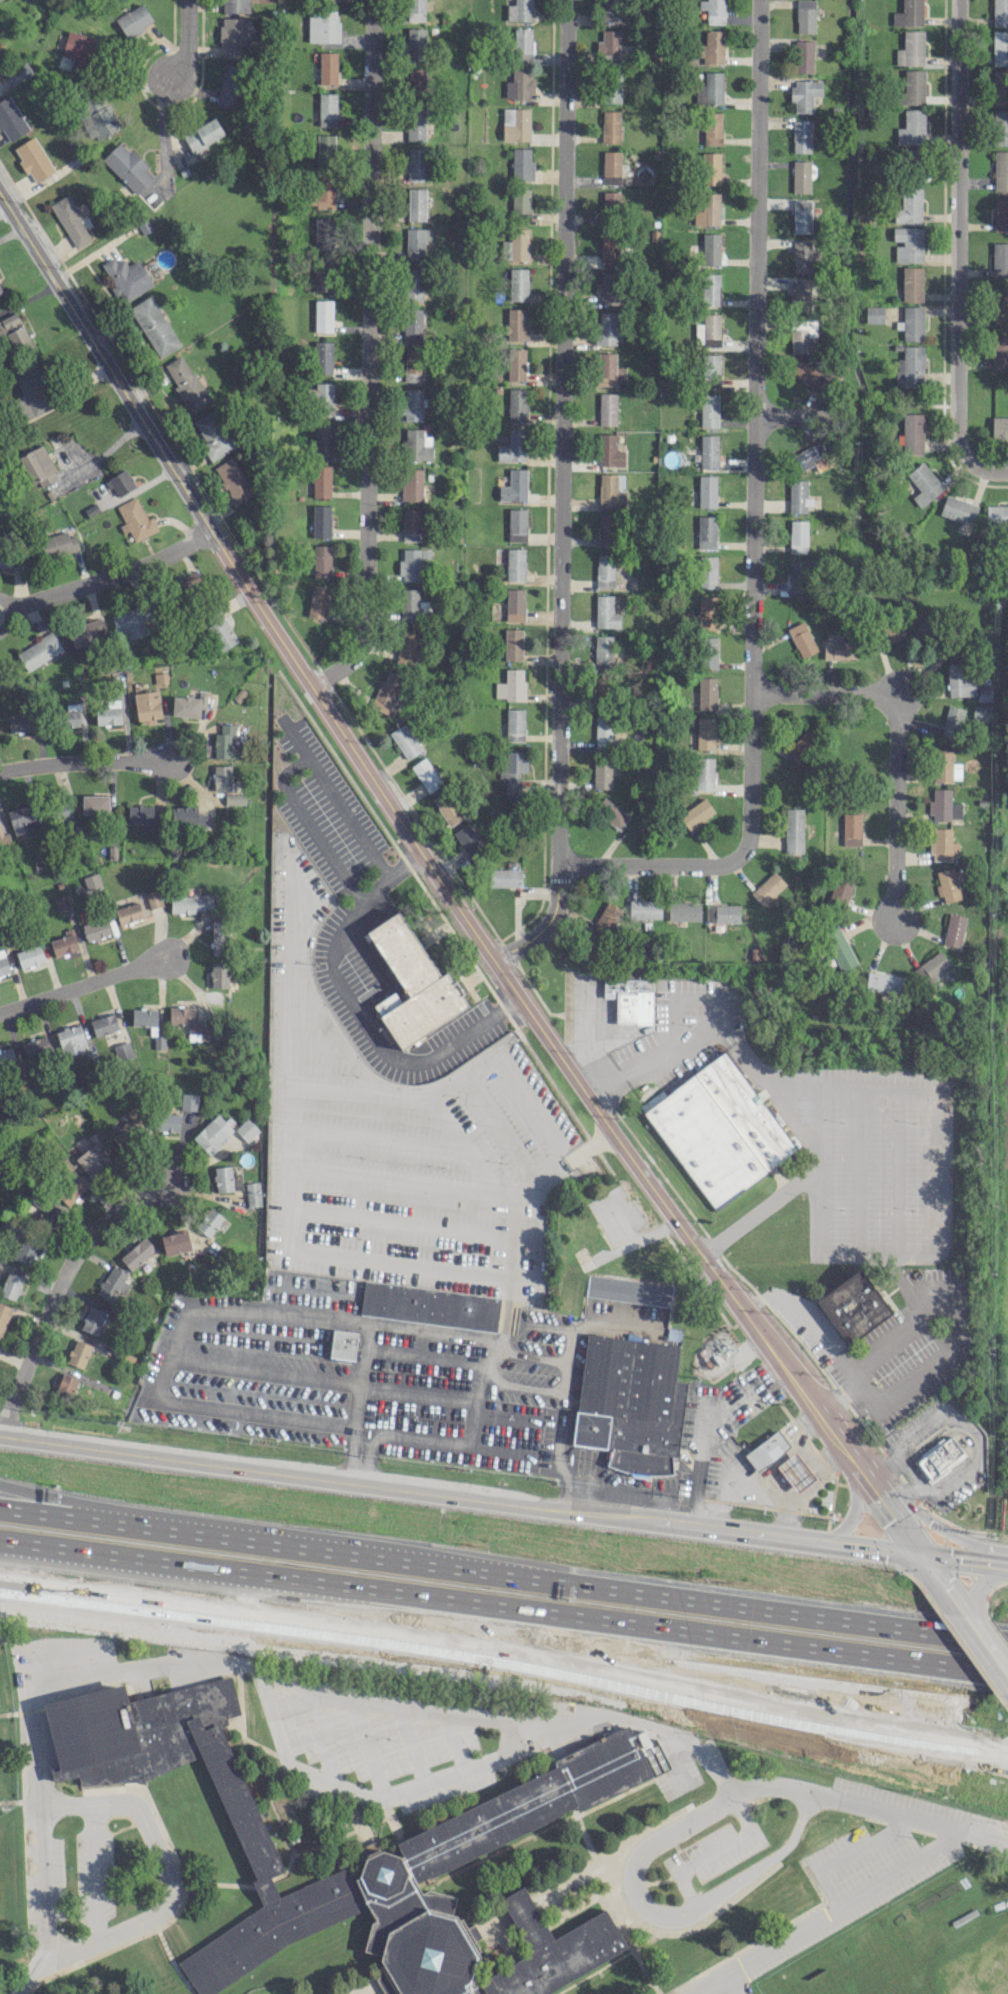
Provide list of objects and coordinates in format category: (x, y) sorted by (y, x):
building: (235, 5)
building: (415, 10)
building: (519, 10)
building: (610, 10)
building: (713, 10)
building: (999, 12)
building: (908, 13)
building: (804, 16)
building: (133, 19)
building: (322, 25)
building: (233, 36)
building: (415, 43)
building: (522, 43)
road: (186, 45)
building: (608, 45)
building: (79, 46)
building: (712, 47)
building: (999, 47)
building: (910, 48)
building: (803, 56)
building: (327, 67)
building: (19, 73)
building: (415, 80)
building: (519, 84)
building: (230, 85)
building: (610, 86)
building: (911, 87)
building: (709, 88)
building: (804, 93)
building: (1000, 93)
building: (327, 109)
building: (96, 117)
building: (10, 118)
building: (416, 123)
building: (515, 124)
building: (610, 126)
building: (911, 127)
building: (999, 127)
building: (712, 128)
building: (202, 134)
building: (801, 136)
road: (164, 138)
building: (324, 151)
building: (33, 159)
building: (416, 164)
building: (521, 164)
building: (127, 167)
building: (611, 167)
building: (710, 168)
building: (1000, 170)
building: (800, 176)
building: (321, 195)
building: (520, 199)
building: (610, 200)
building: (416, 203)
building: (909, 205)
building: (1000, 213)
building: (801, 215)
building: (70, 220)
road: (957, 231)
building: (323, 232)
building: (416, 242)
building: (908, 243)
building: (515, 244)
building: (710, 248)
building: (606, 250)
building: (801, 256)
building: (999, 258)
building: (324, 272)
building: (126, 277)
building: (912, 283)
building: (518, 284)
building: (412, 287)
building: (608, 287)
building: (710, 289)
building: (0, 291)
building: (800, 294)
building: (873, 313)
building: (323, 315)
building: (912, 323)
building: (412, 324)
building: (516, 324)
building: (154, 325)
building: (606, 328)
building: (708, 330)
building: (14, 332)
building: (801, 334)
building: (999, 351)
road: (365, 352)
building: (323, 357)
building: (515, 363)
building: (412, 364)
building: (909, 366)
building: (609, 370)
building: (709, 370)
building: (805, 373)
building: (186, 383)
building: (31, 392)
building: (321, 399)
building: (413, 404)
building: (517, 404)
building: (607, 409)
building: (709, 410)
road: (790, 418)
building: (912, 432)
building: (213, 434)
building: (324, 439)
building: (415, 445)
building: (512, 446)
road: (109, 447)
building: (608, 450)
building: (708, 450)
building: (810, 457)
building: (39, 466)
road: (986, 469)
building: (232, 479)
building: (321, 480)
building: (119, 482)
building: (923, 483)
building: (411, 484)
building: (514, 486)
building: (609, 491)
building: (706, 491)
road: (561, 495)
building: (798, 496)
building: (958, 509)
building: (996, 516)
building: (135, 519)
building: (321, 521)
road: (755, 522)
building: (412, 524)
building: (516, 524)
building: (606, 529)
building: (706, 531)
building: (798, 536)
building: (58, 544)
building: (7, 556)
building: (322, 560)
building: (412, 563)
building: (515, 563)
building: (604, 570)
building: (707, 571)
road: (114, 574)
building: (797, 576)
building: (187, 585)
building: (318, 601)
building: (409, 603)
building: (514, 604)
building: (706, 610)
building: (605, 611)
road: (8, 614)
building: (131, 621)
building: (891, 631)
building: (87, 632)
building: (220, 633)
building: (801, 638)
building: (512, 644)
building: (408, 646)
building: (838, 649)
building: (39, 650)
building: (602, 650)
building: (708, 652)
building: (160, 677)
building: (960, 680)
road: (915, 682)
building: (510, 685)
building: (387, 693)
building: (707, 693)
building: (983, 693)
building: (147, 704)
building: (188, 705)
building: (108, 711)
building: (980, 712)
building: (71, 714)
building: (951, 720)
building: (20, 722)
building: (514, 724)
building: (705, 732)
building: (603, 734)
building: (404, 740)
building: (226, 741)
road: (894, 742)
building: (802, 745)
building: (944, 765)
road: (81, 766)
road: (288, 767)
building: (512, 771)
building: (704, 773)
building: (426, 774)
building: (601, 774)
building: (221, 777)
building: (235, 799)
building: (94, 804)
building: (943, 805)
road: (393, 807)
building: (447, 807)
building: (64, 811)
building: (611, 812)
building: (696, 813)
building: (145, 816)
building: (187, 818)
building: (851, 828)
building: (793, 830)
building: (4, 837)
building: (467, 839)
building: (942, 844)
building: (505, 877)
building: (91, 880)
building: (947, 885)
building: (767, 888)
building: (840, 889)
building: (153, 898)
building: (191, 902)
building: (645, 908)
building: (684, 910)
building: (128, 912)
building: (722, 913)
building: (606, 919)
building: (95, 928)
building: (953, 929)
building: (220, 936)
building: (64, 943)
building: (838, 948)
building: (29, 955)
building: (3, 963)
building: (930, 968)
building: (219, 974)
building: (412, 981)
building: (883, 982)
road: (82, 988)
building: (630, 999)
road: (357, 1011)
building: (145, 1018)
building: (188, 1022)
building: (103, 1024)
building: (71, 1039)
building: (36, 1048)
building: (123, 1050)
building: (7, 1058)
road: (780, 1088)
building: (189, 1101)
building: (166, 1122)
building: (129, 1127)
building: (246, 1129)
building: (718, 1129)
building: (212, 1133)
building: (94, 1160)
road: (562, 1161)
road: (858, 1169)
road: (895, 1170)
building: (223, 1178)
building: (68, 1188)
building: (252, 1193)
road: (933, 1197)
road: (291, 1199)
building: (46, 1209)
building: (208, 1221)
building: (175, 1242)
building: (26, 1251)
building: (137, 1253)
building: (112, 1283)
building: (11, 1285)
road: (904, 1286)
building: (628, 1290)
road: (57, 1293)
building: (429, 1305)
building: (852, 1306)
road: (952, 1308)
road: (806, 1312)
building: (4, 1316)
building: (92, 1319)
building: (341, 1343)
road: (526, 1352)
building: (78, 1353)
road: (357, 1373)
road: (854, 1373)
building: (67, 1383)
road: (521, 1384)
road: (869, 1391)
road: (838, 1394)
road: (160, 1400)
building: (629, 1402)
road: (950, 1410)
road: (833, 1429)
road: (556, 1438)
gas station: (764, 1449)
building: (766, 1449)
road: (346, 1452)
road: (784, 1452)
road: (808, 1453)
building: (939, 1456)
road: (883, 1462)
building: (794, 1471)
road: (818, 1471)
road: (949, 1480)
road: (630, 1486)
road: (915, 1488)
road: (756, 1493)
road: (460, 1498)
road: (853, 1501)
road: (886, 1504)
road: (935, 1525)
road: (864, 1539)
road: (958, 1551)
traffic signals: (920, 1562)
road: (869, 1566)
road: (963, 1566)
road: (504, 1574)
road: (935, 1581)
road: (976, 1590)
road: (503, 1606)
road: (897, 1635)
road: (979, 1640)
road: (505, 1655)
road: (244, 1664)
road: (884, 1712)
road: (771, 1787)
road: (397, 1793)
road: (909, 1818)
building: (472, 1820)
road: (713, 1850)
road: (841, 1854)
road: (641, 1855)
road: (765, 1861)
road: (95, 1872)
road: (170, 1874)
road: (841, 1906)
park: (876, 1976)
road: (708, 1983)
road: (728, 1984)

